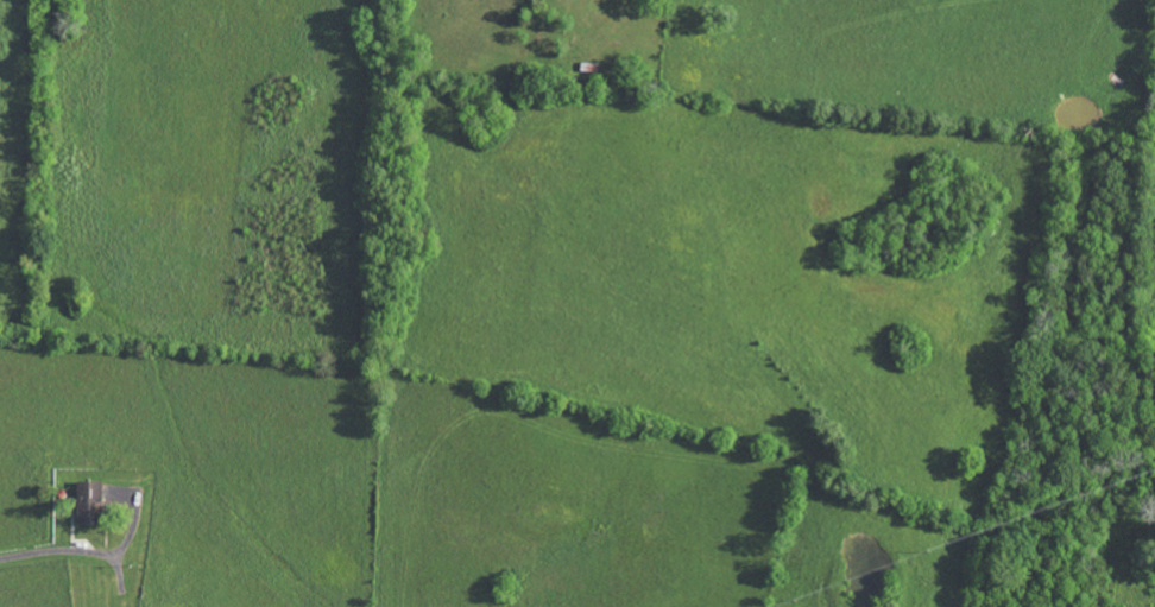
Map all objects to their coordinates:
building: (86, 502)
road: (43, 554)

